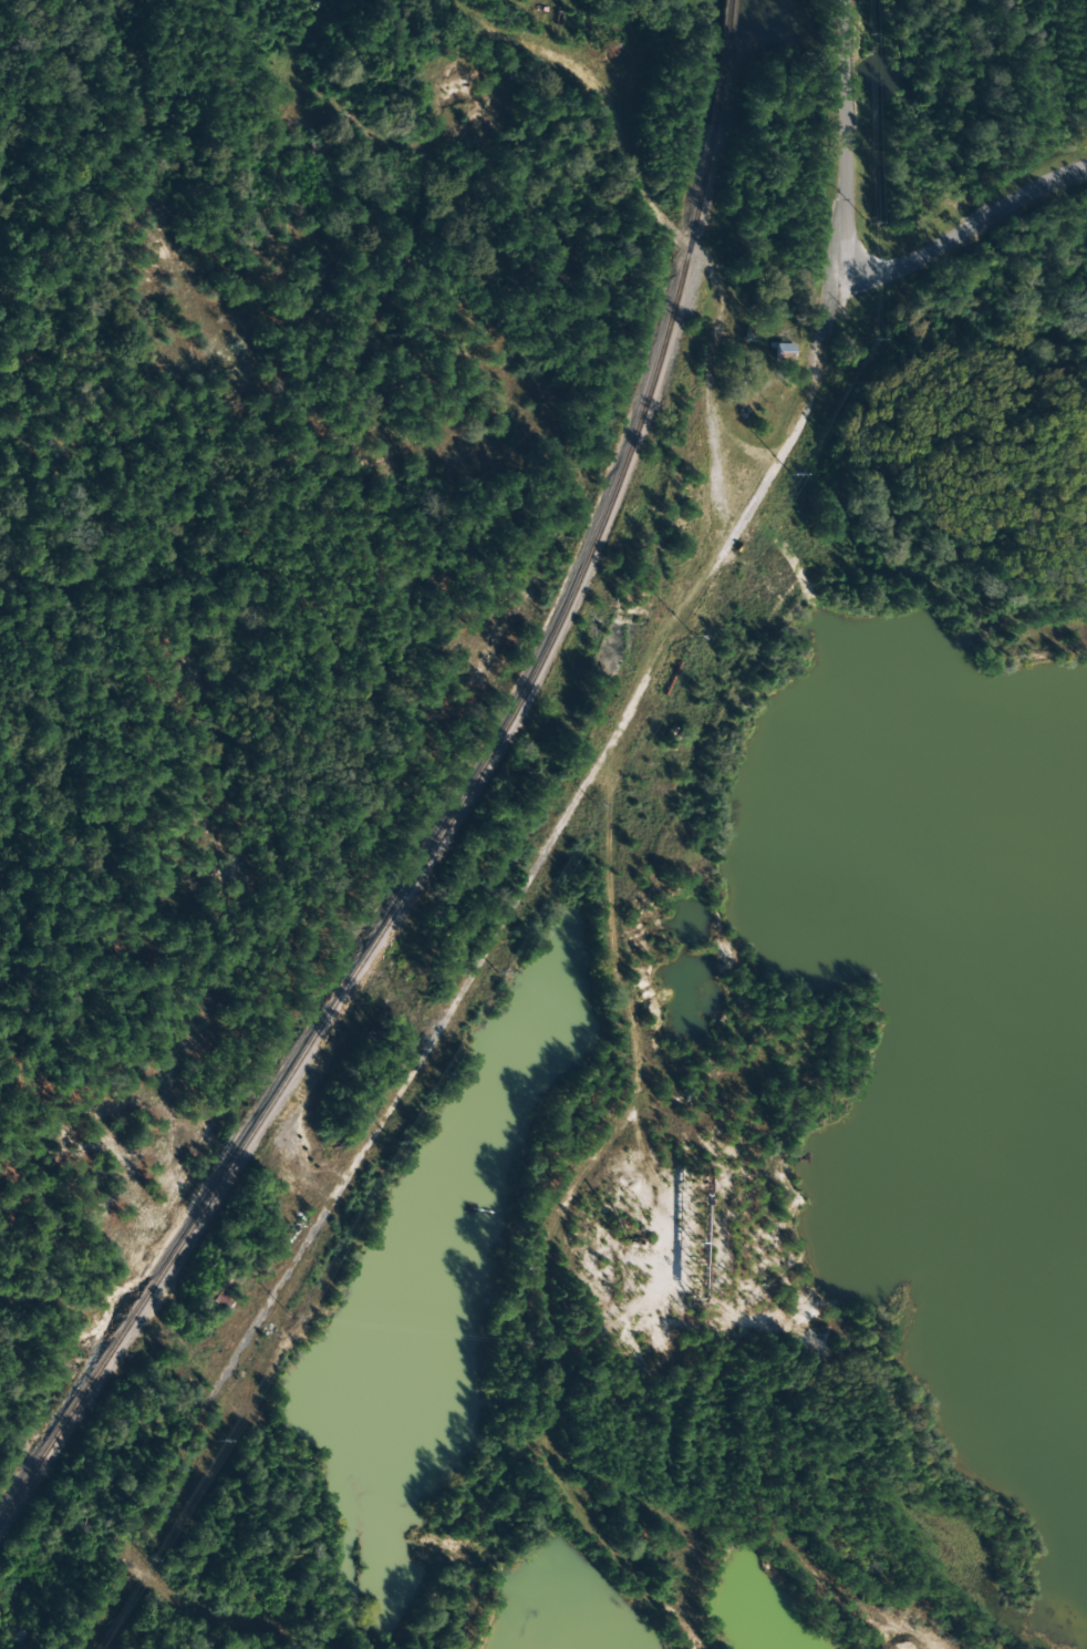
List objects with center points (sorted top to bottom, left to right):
railway: (720, 64)
road: (847, 142)
road: (666, 225)
road: (980, 237)
road: (349, 416)
railway: (424, 858)
road: (608, 950)
road: (427, 982)
road: (115, 1327)
road: (542, 1361)

